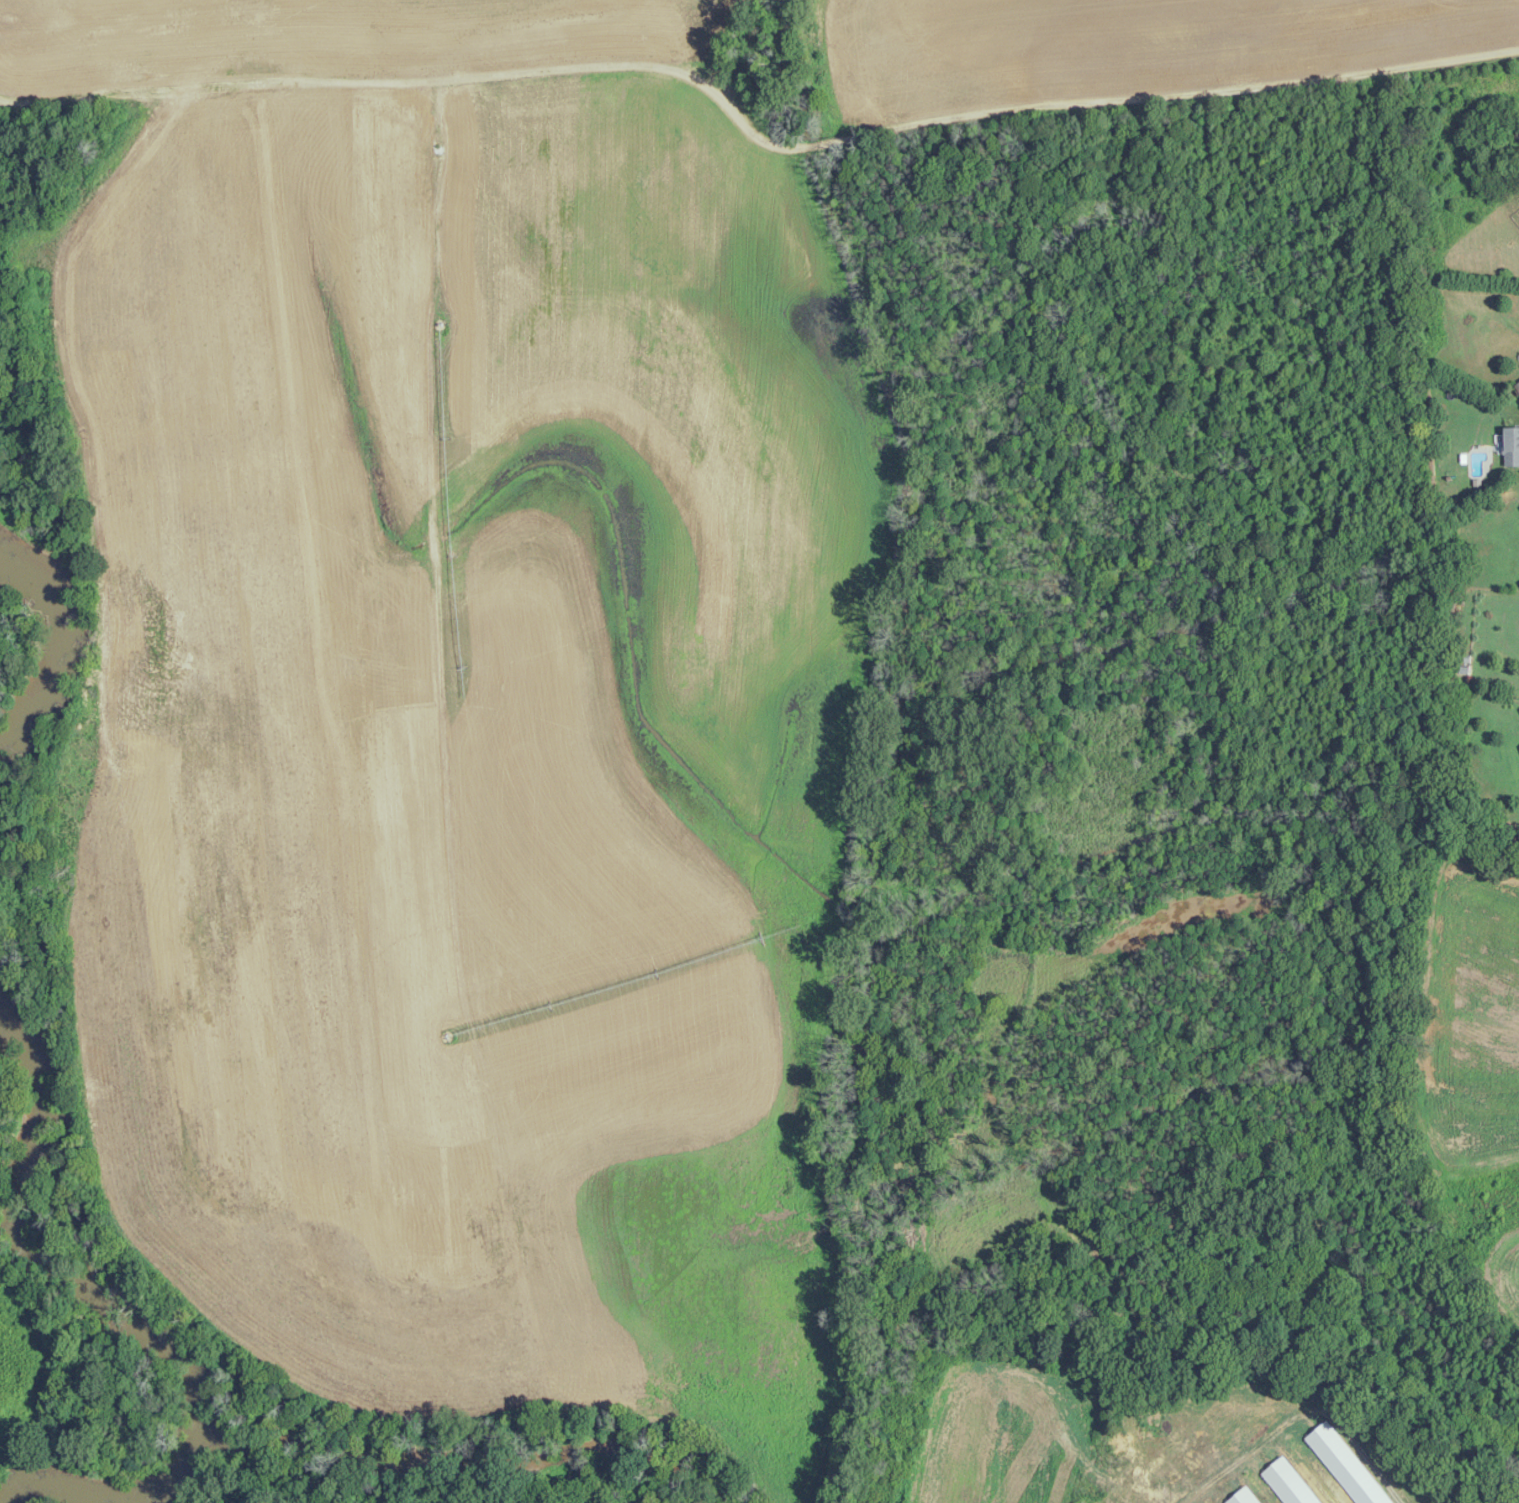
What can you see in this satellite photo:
building: (1517, 385)
building: (1512, 446)
river: (22, 622)
river: (203, 1418)

